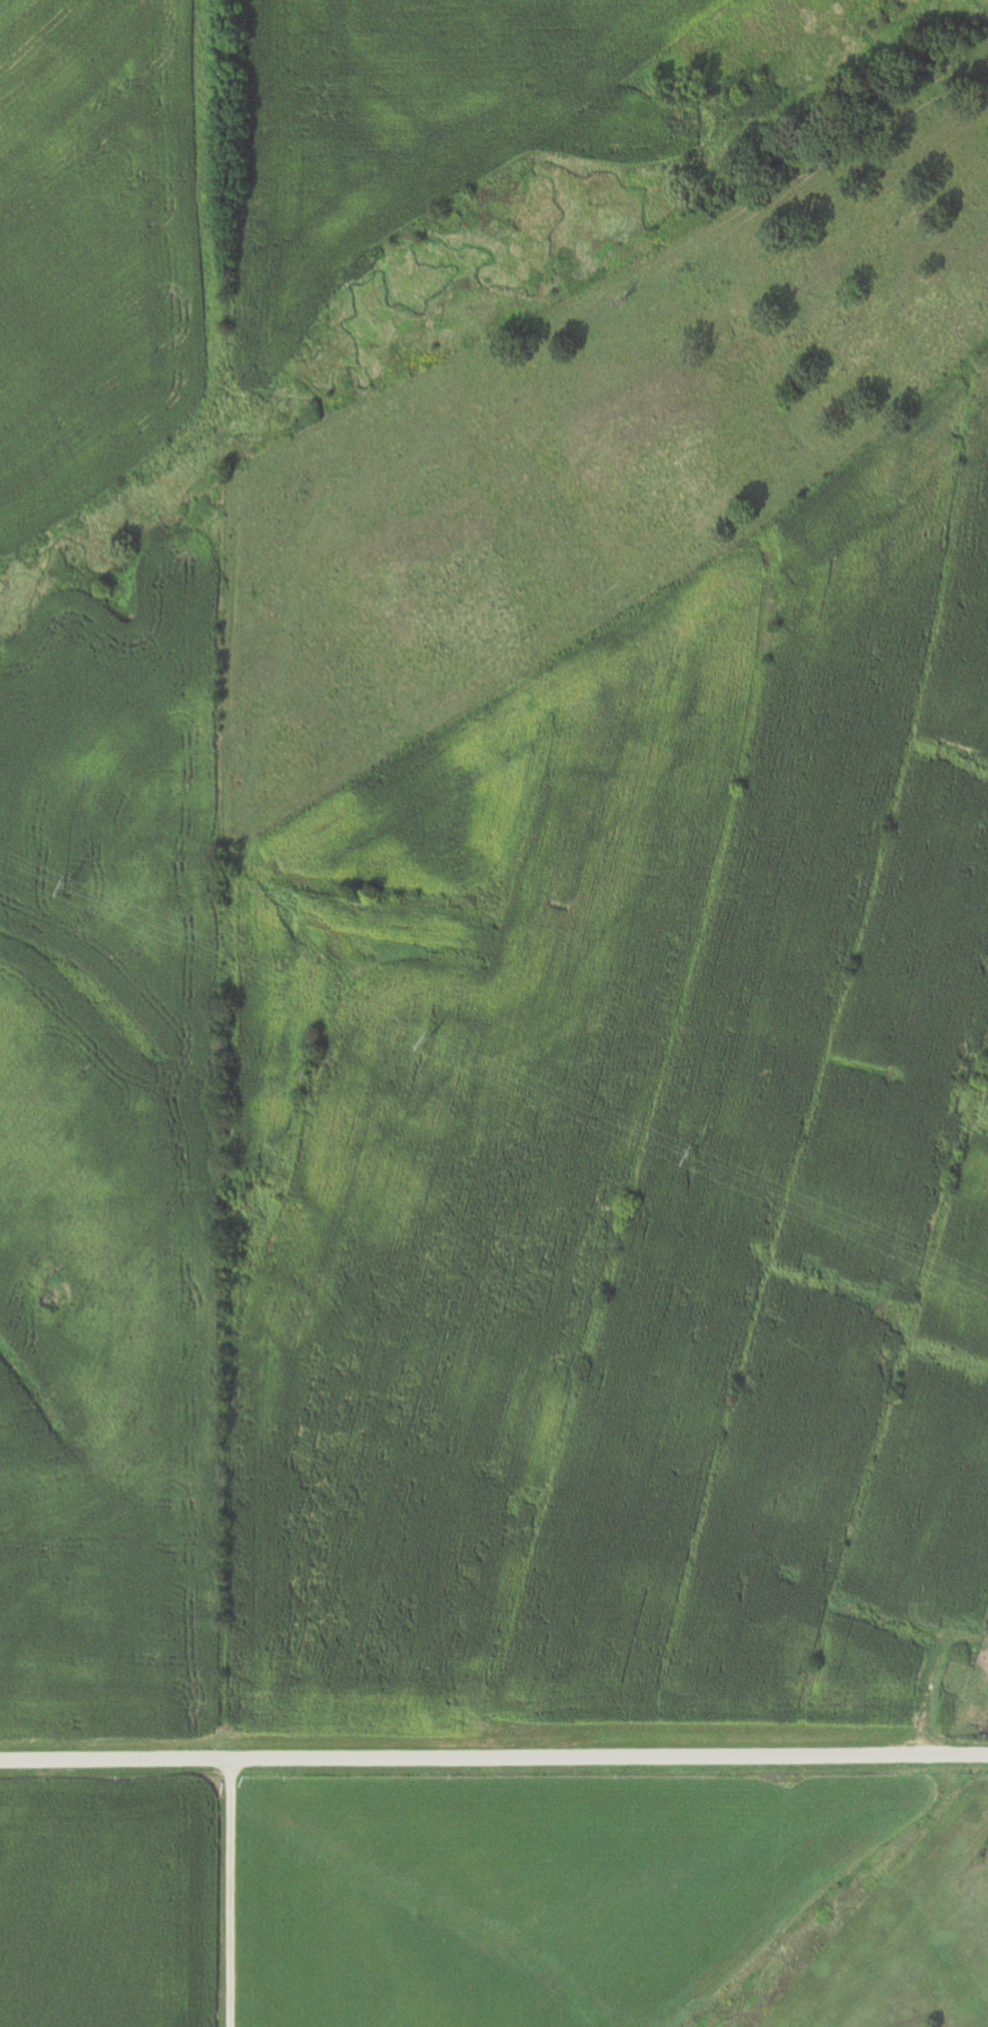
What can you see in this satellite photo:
building: (620, 1719)
building: (445, 1721)
building: (400, 1722)
building: (674, 1722)
road: (494, 1758)
road: (232, 1892)

